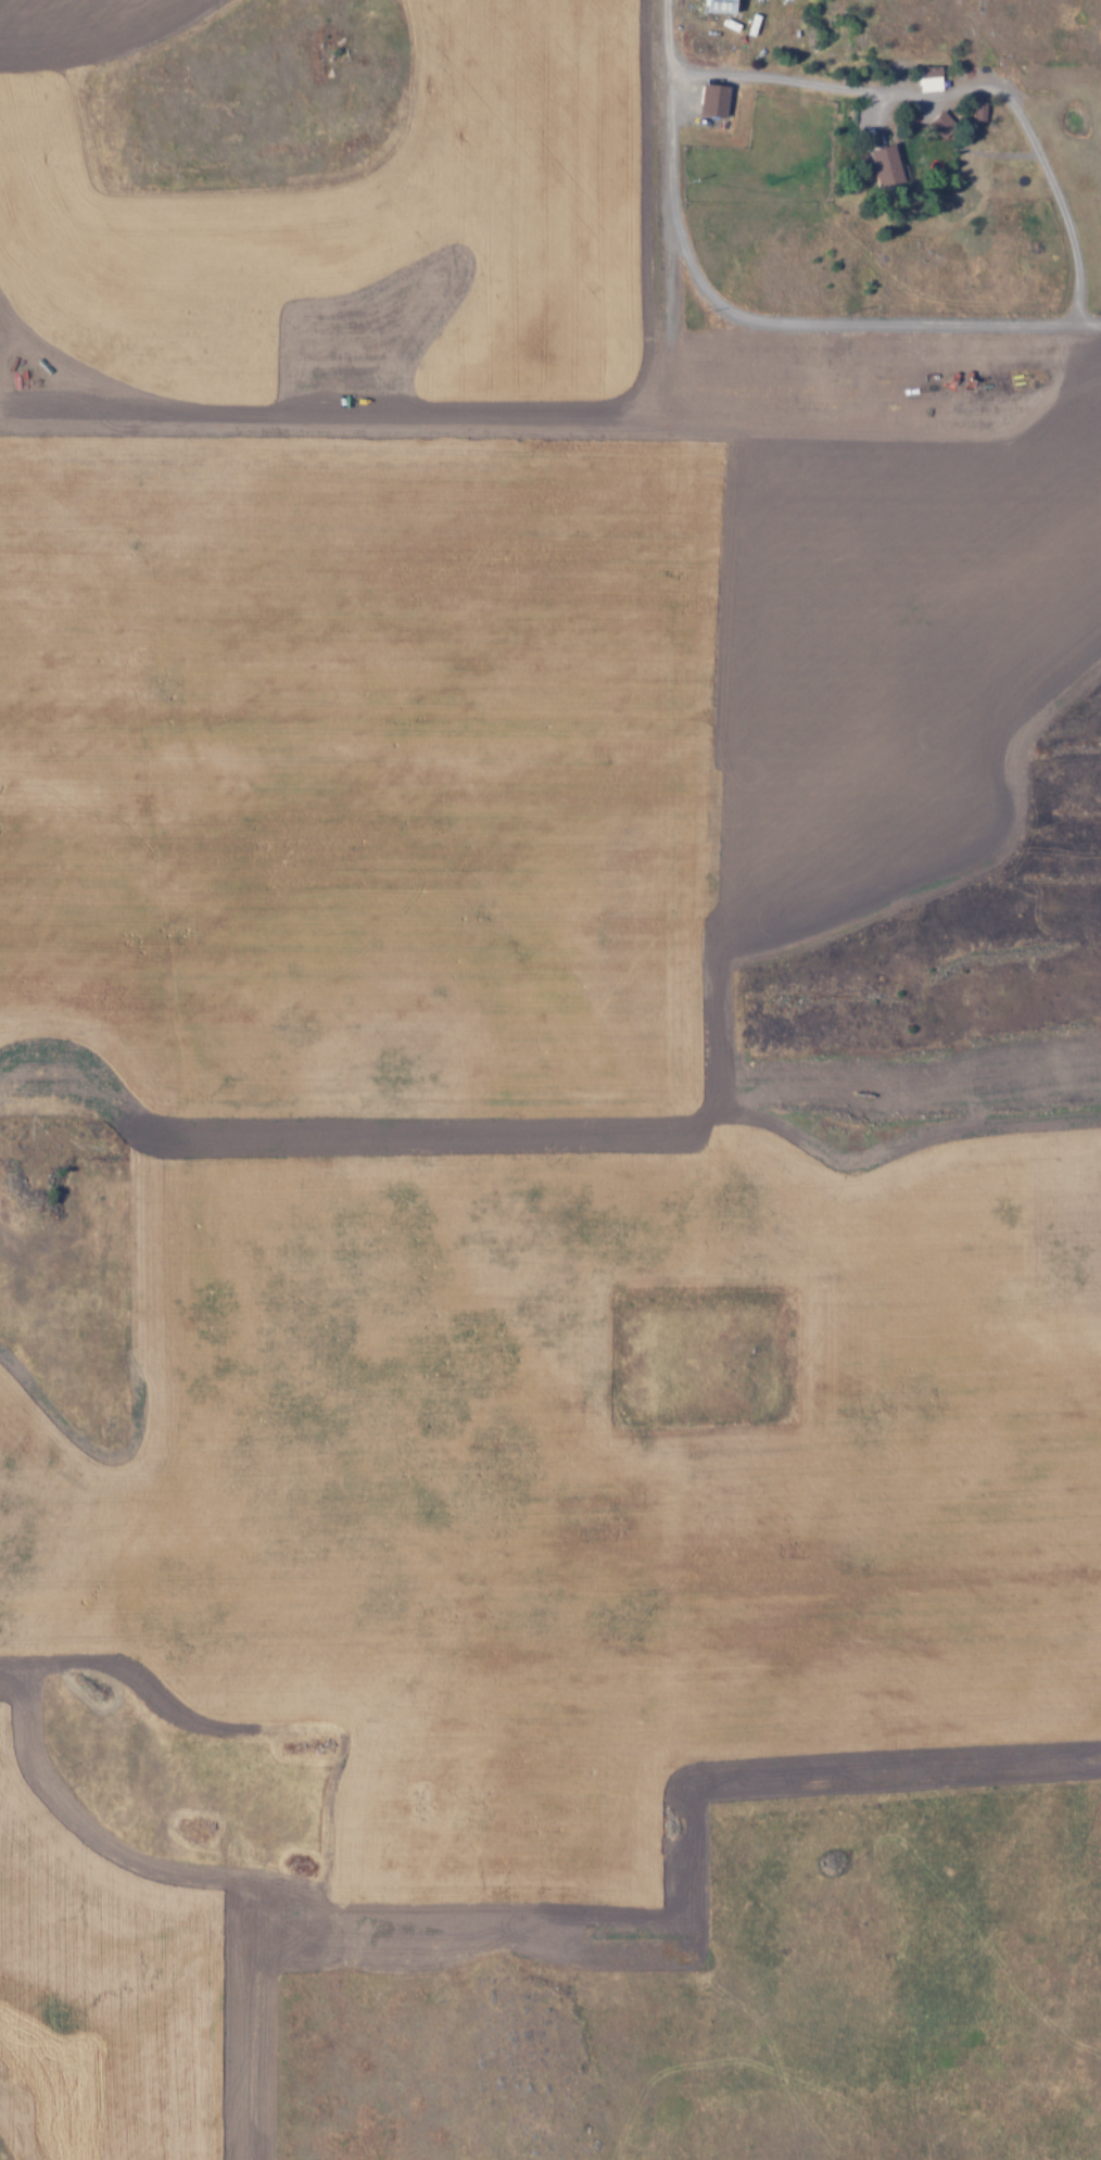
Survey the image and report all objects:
building: (716, 5)
building: (929, 78)
building: (977, 110)
building: (941, 123)
building: (884, 164)

